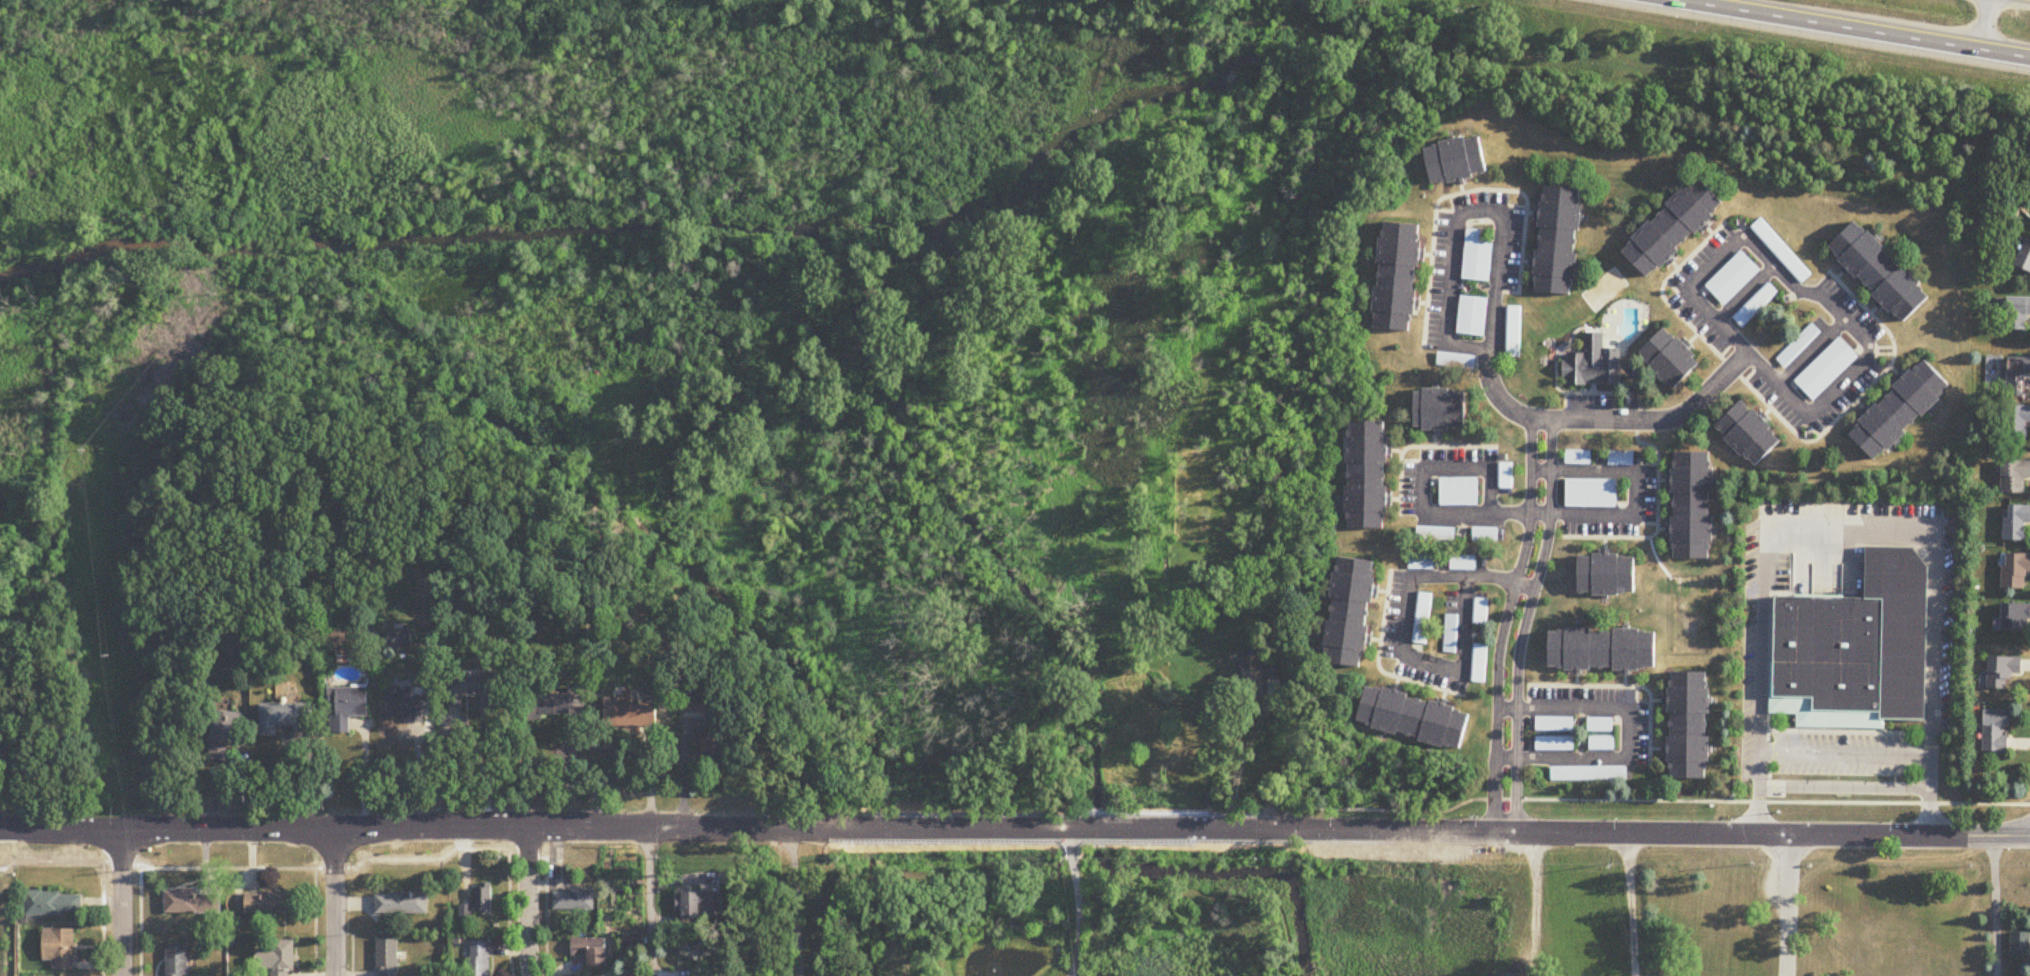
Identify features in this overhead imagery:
road: (1983, 26)
road: (1847, 30)
building: (1457, 160)
road: (1466, 190)
road: (1509, 205)
road: (1447, 210)
road: (1459, 215)
building: (1674, 228)
building: (1559, 240)
building: (2025, 256)
building: (1477, 257)
building: (1881, 272)
building: (1398, 276)
building: (1733, 278)
park: (1603, 288)
road: (1674, 289)
road: (1745, 293)
building: (1755, 305)
building: (2018, 313)
building: (1472, 315)
building: (1513, 331)
building: (1798, 346)
road: (1879, 347)
road: (1727, 348)
road: (1811, 353)
road: (1866, 353)
road: (1879, 353)
building: (1671, 357)
building: (1592, 363)
building: (1826, 369)
road: (1751, 372)
building: (2019, 377)
road: (1587, 392)
road: (1563, 406)
building: (1441, 409)
building: (1901, 410)
road: (1779, 417)
road: (1607, 420)
building: (2017, 423)
road: (1809, 427)
building: (1750, 432)
road: (1416, 446)
building: (1577, 457)
road: (1414, 460)
road: (1642, 463)
building: (1368, 475)
building: (1505, 475)
building: (2015, 476)
building: (1459, 491)
building: (1591, 493)
building: (1692, 505)
road: (1524, 514)
road: (1656, 517)
road: (1642, 523)
building: (2016, 523)
road: (1847, 528)
building: (1435, 534)
building: (1485, 535)
building: (1421, 563)
building: (1462, 563)
building: (2015, 571)
building: (1607, 574)
building: (1479, 611)
building: (1351, 612)
building: (2016, 617)
building: (1422, 619)
road: (1504, 622)
road: (1524, 623)
building: (400, 641)
building: (1855, 644)
building: (1603, 649)
road: (1768, 659)
road: (1378, 662)
road: (1395, 663)
road: (1444, 665)
building: (2003, 671)
building: (1254, 677)
building: (1769, 684)
road: (1612, 685)
building: (477, 694)
road: (1635, 698)
building: (696, 704)
building: (404, 705)
building: (548, 705)
building: (347, 707)
building: (630, 711)
building: (1414, 716)
building: (286, 717)
building: (1553, 724)
building: (1689, 724)
building: (1599, 725)
building: (1997, 730)
road: (1835, 731)
road: (1627, 734)
building: (225, 735)
building: (713, 743)
building: (1553, 743)
building: (1601, 743)
road: (1844, 753)
road: (1242, 757)
road: (482, 767)
road: (364, 774)
building: (1588, 774)
road: (1843, 786)
road: (1660, 799)
road: (964, 828)
road: (1978, 834)
road: (226, 867)
building: (483, 899)
road: (529, 900)
building: (574, 900)
road: (121, 901)
road: (314, 901)
road: (333, 901)
road: (649, 901)
road: (795, 901)
building: (191, 903)
building: (269, 903)
road: (1078, 903)
road: (1629, 903)
building: (402, 904)
road: (1784, 904)
building: (53, 905)
building: (700, 905)
road: (1993, 905)
road: (139, 922)
building: (2020, 944)
building: (699, 947)
building: (60, 949)
road: (102, 950)
building: (592, 951)
road: (351, 954)
building: (387, 958)
building: (478, 958)
building: (277, 959)
building: (177, 960)

